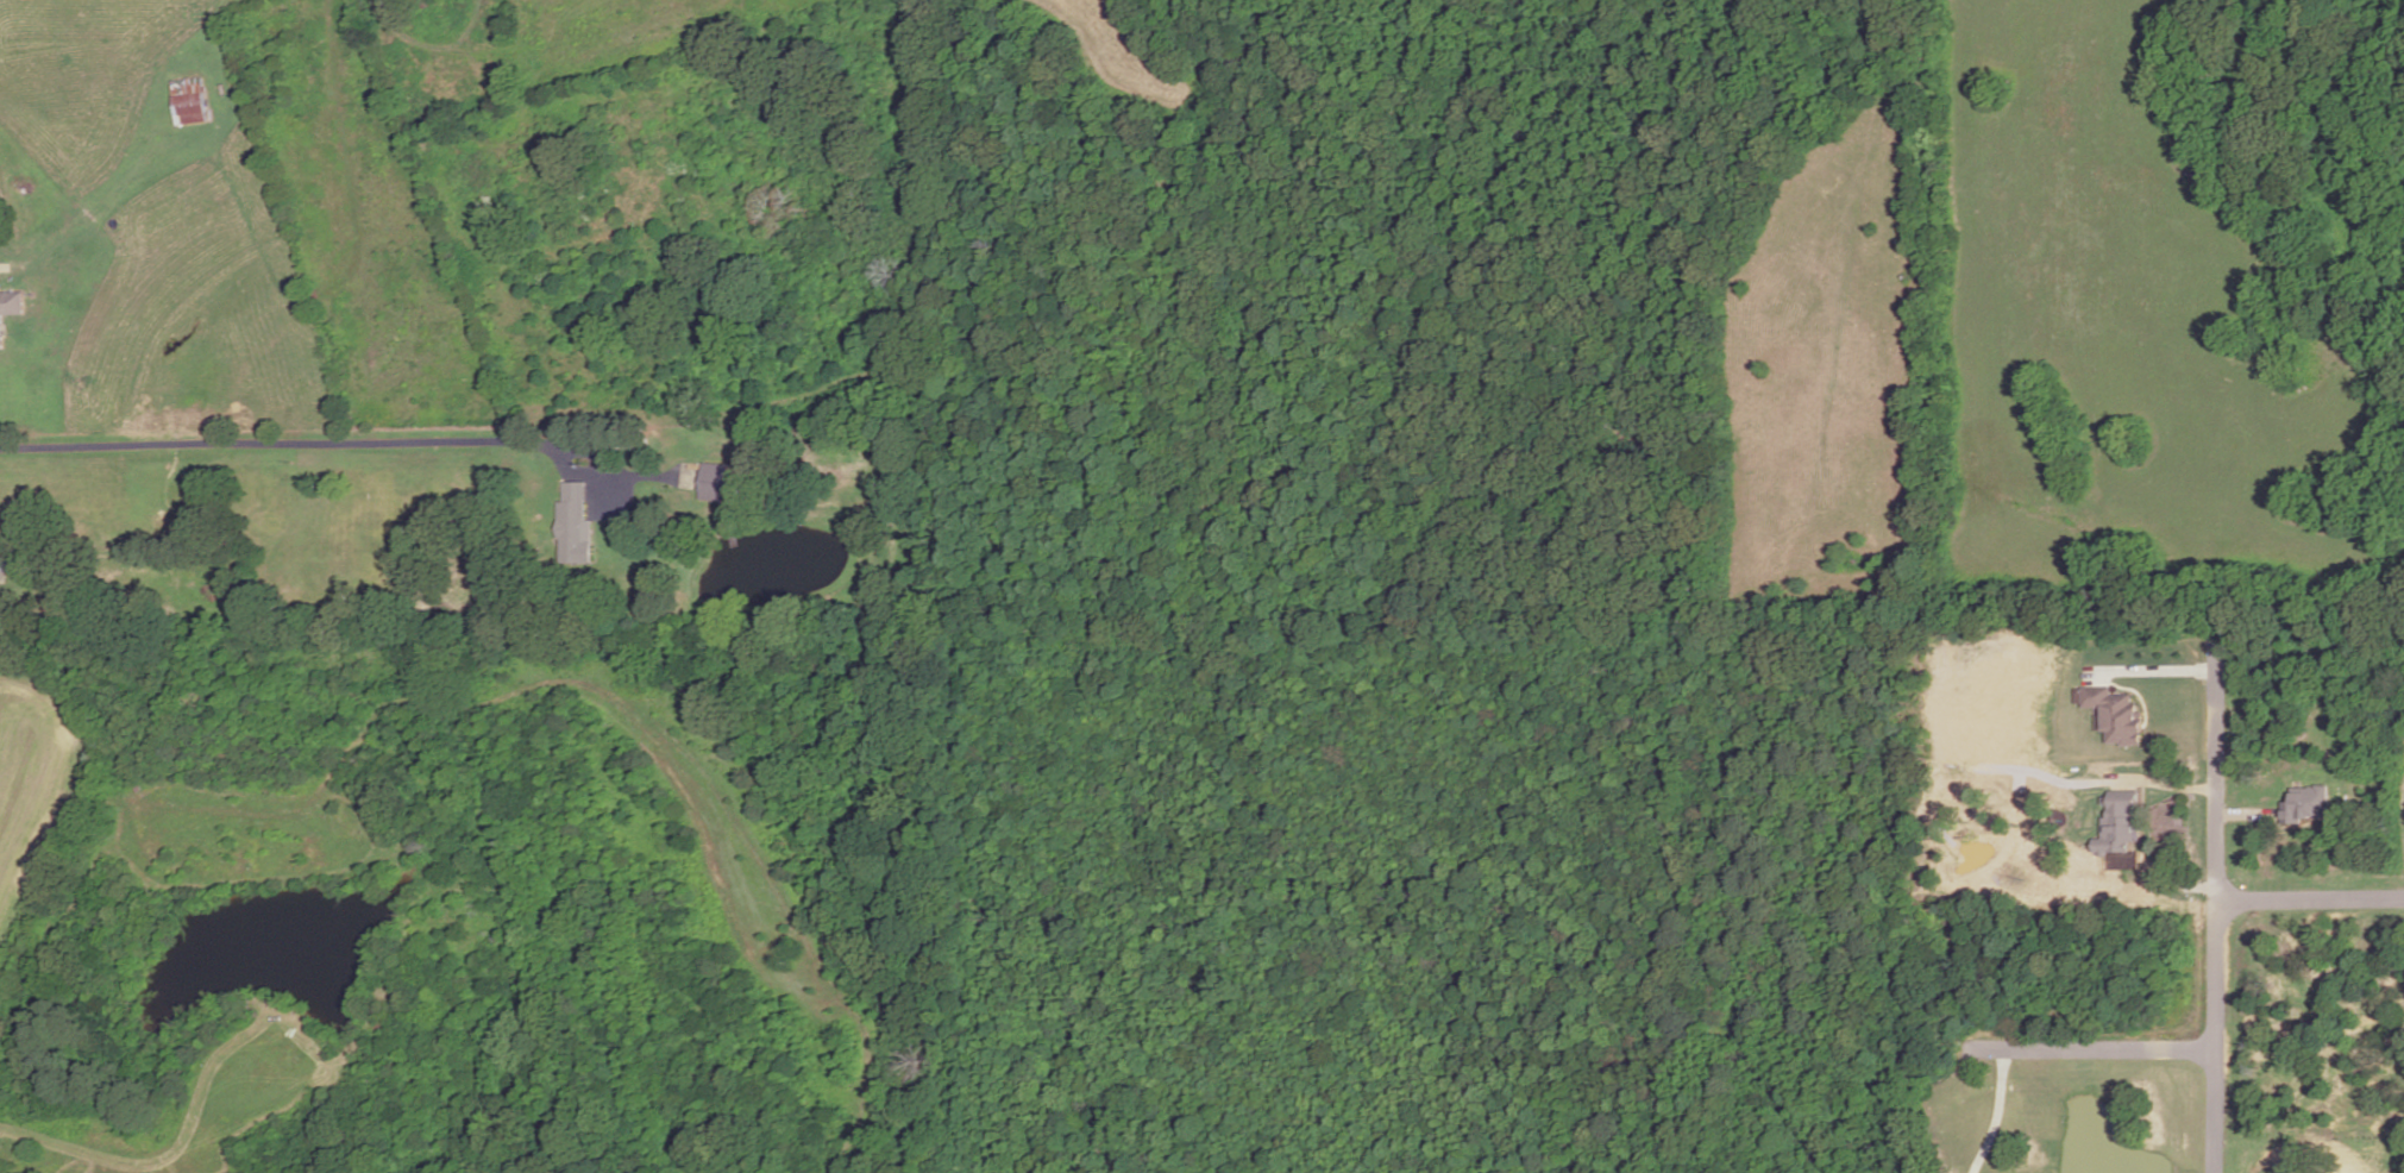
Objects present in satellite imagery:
building: (190, 101)
building: (10, 308)
road: (289, 435)
building: (714, 481)
building: (575, 525)
building: (8, 564)
road: (2152, 672)
building: (2116, 716)
crop: (29, 779)
building: (2306, 803)
building: (2119, 822)
road: (2309, 901)
road: (2214, 903)
road: (2090, 1050)
road: (2004, 1115)

